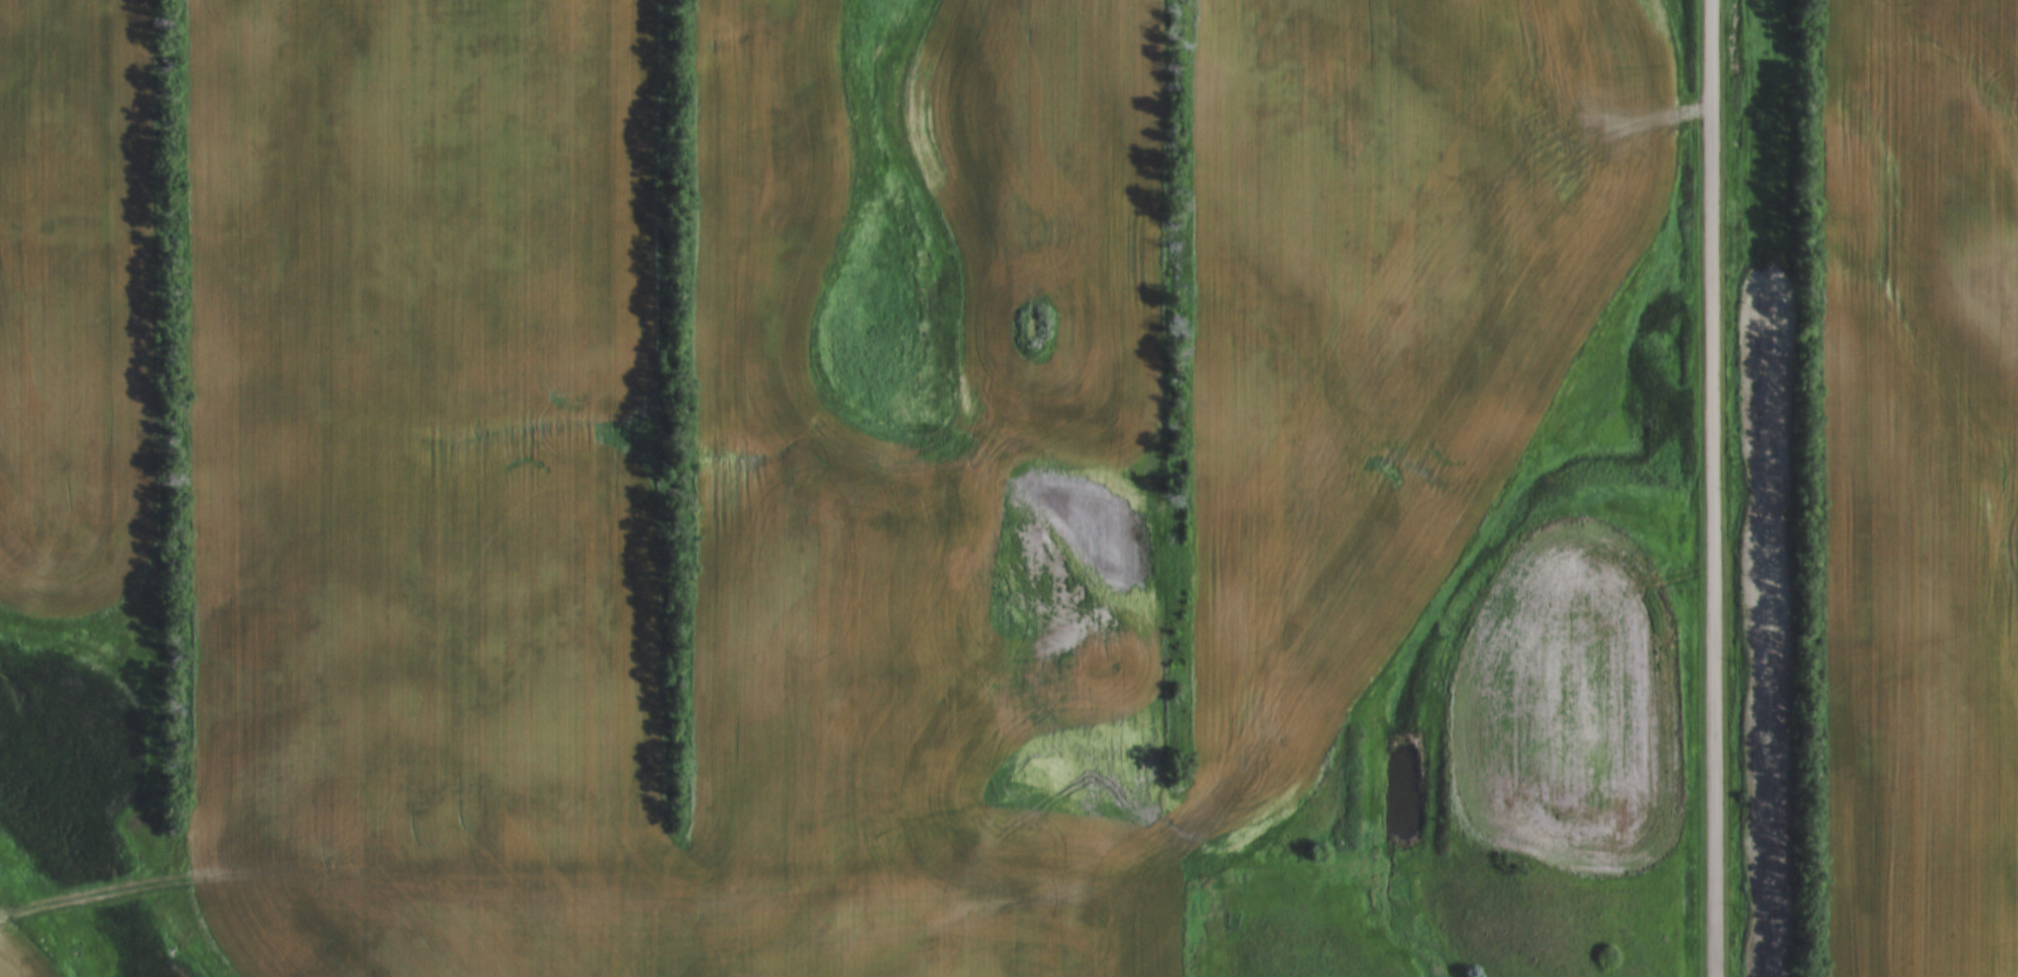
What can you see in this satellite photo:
road: (1716, 488)

